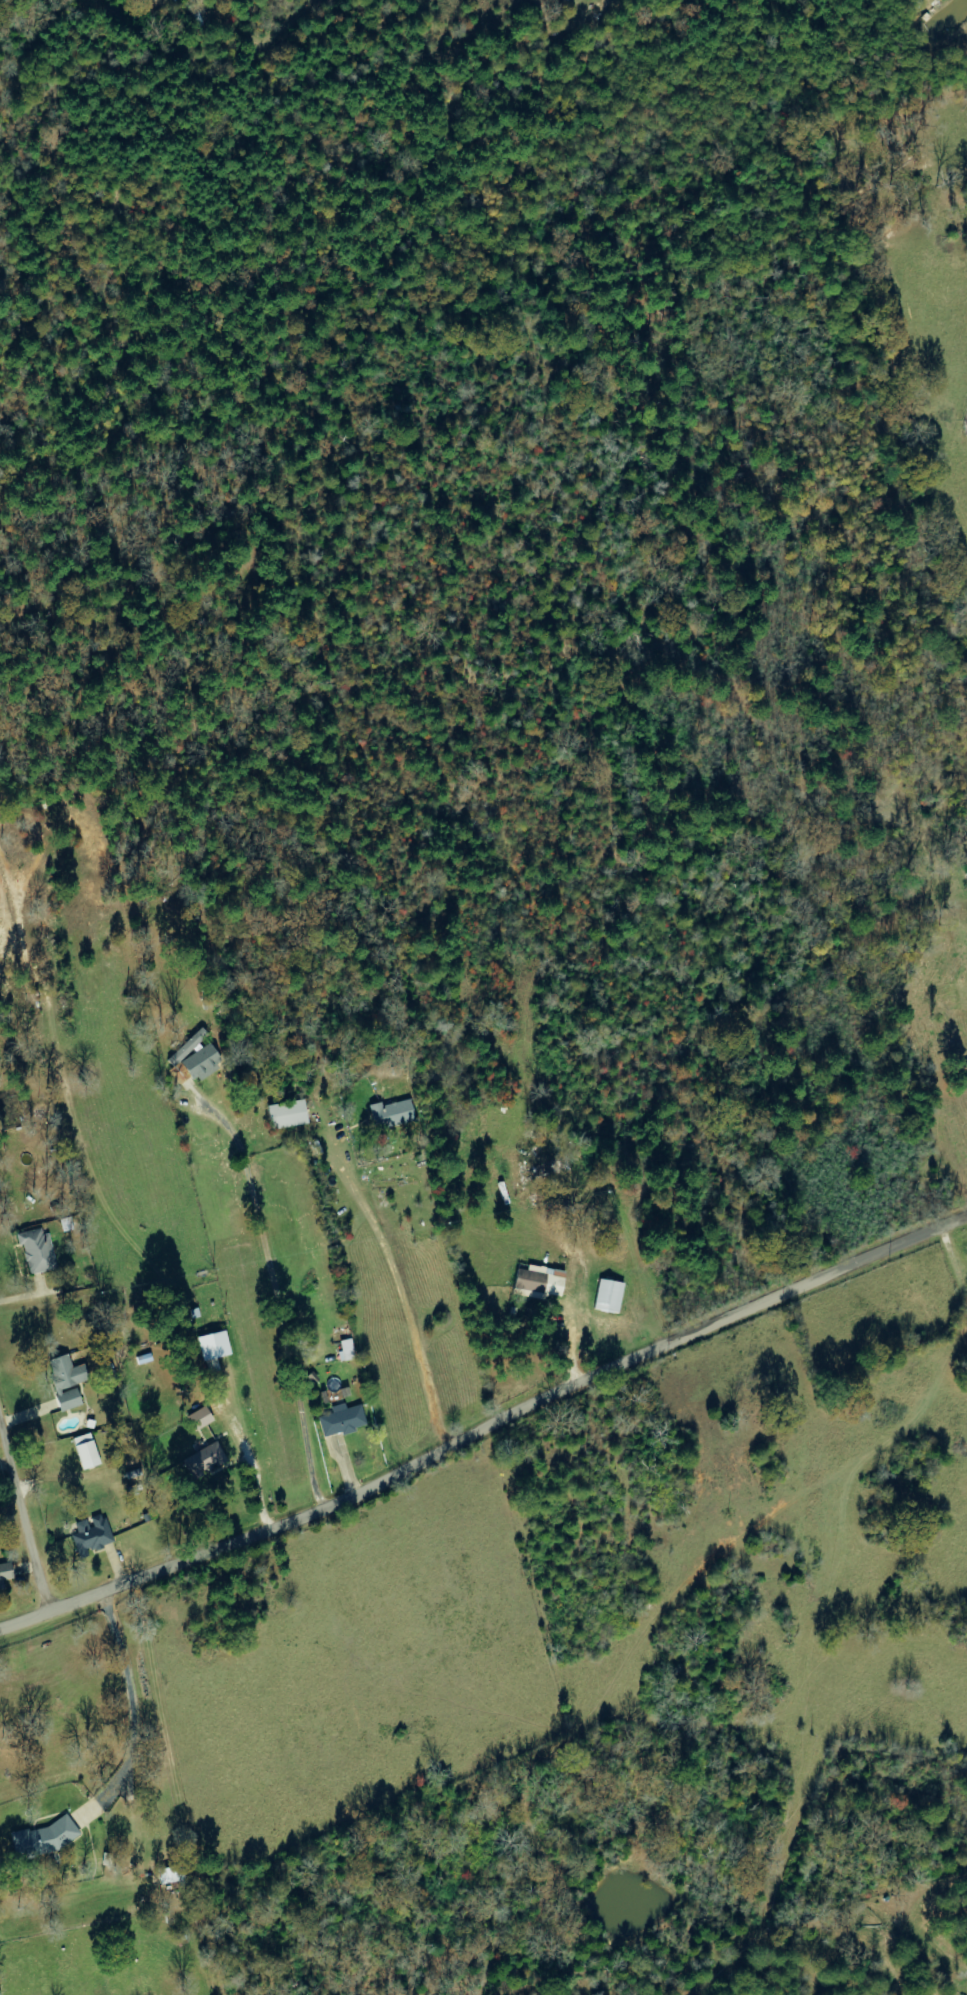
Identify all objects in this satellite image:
building: (188, 1046)
building: (201, 1062)
building: (287, 1114)
building: (391, 1114)
building: (37, 1250)
building: (541, 1281)
building: (608, 1296)
building: (213, 1345)
building: (346, 1350)
building: (67, 1380)
building: (199, 1418)
building: (342, 1420)
road: (485, 1430)
building: (86, 1450)
building: (204, 1460)
building: (91, 1534)
building: (5, 1572)
building: (44, 1838)

